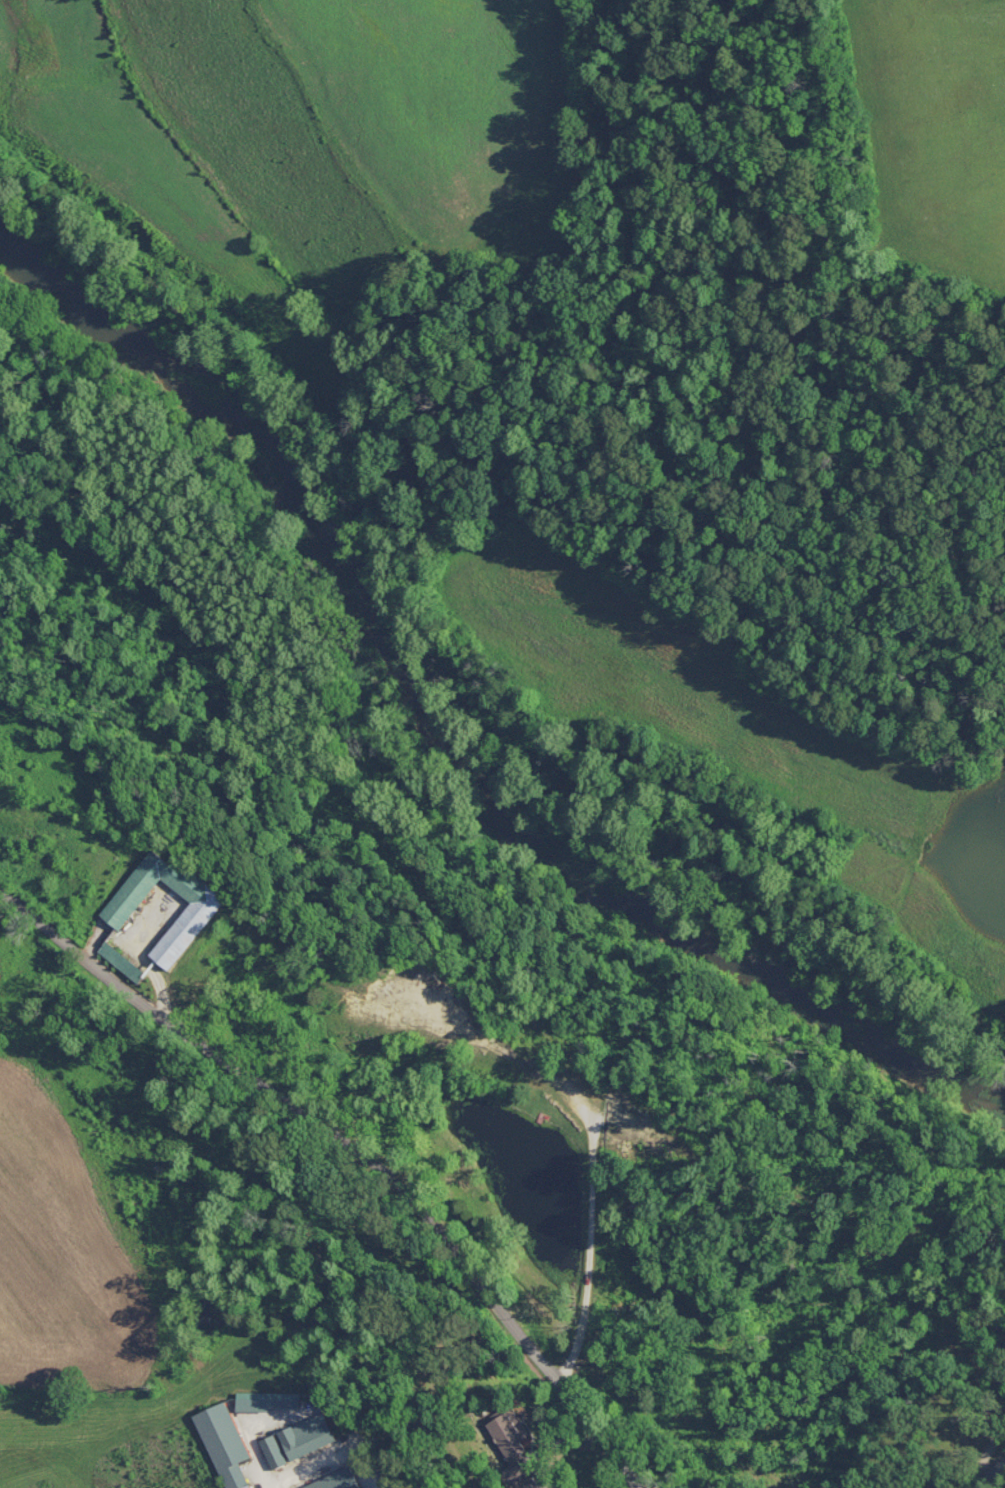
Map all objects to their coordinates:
river: (432, 729)
building: (123, 961)
road: (169, 1008)
road: (494, 1303)
building: (235, 1435)
building: (307, 1435)
building: (274, 1451)
road: (992, 1476)
building: (338, 1480)

